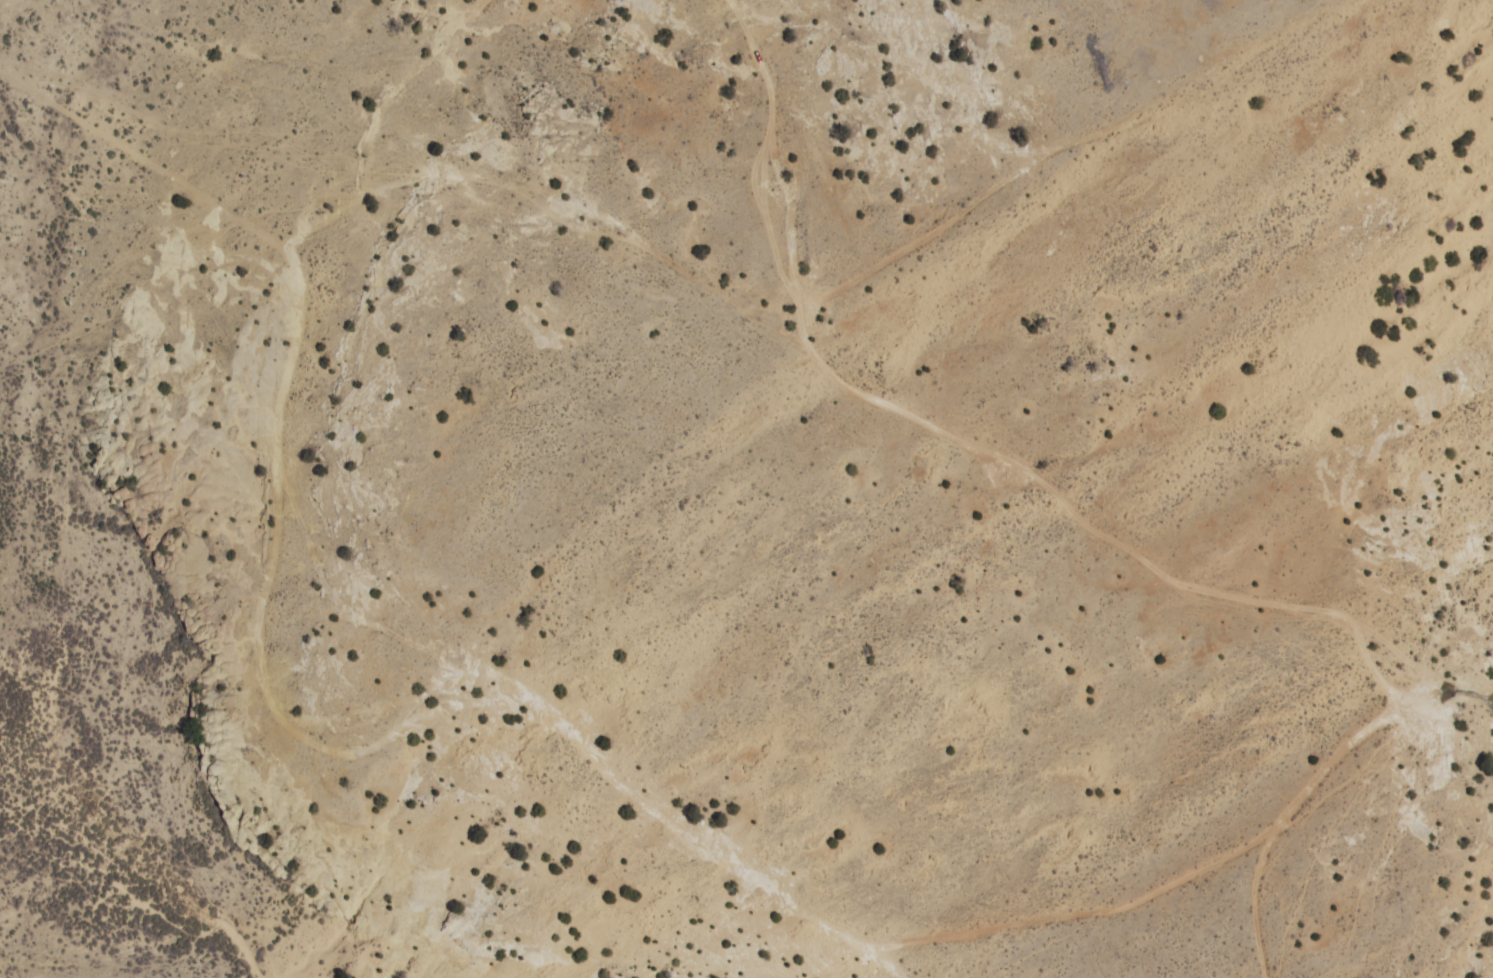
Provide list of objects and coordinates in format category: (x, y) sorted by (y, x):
road: (1345, 426)

